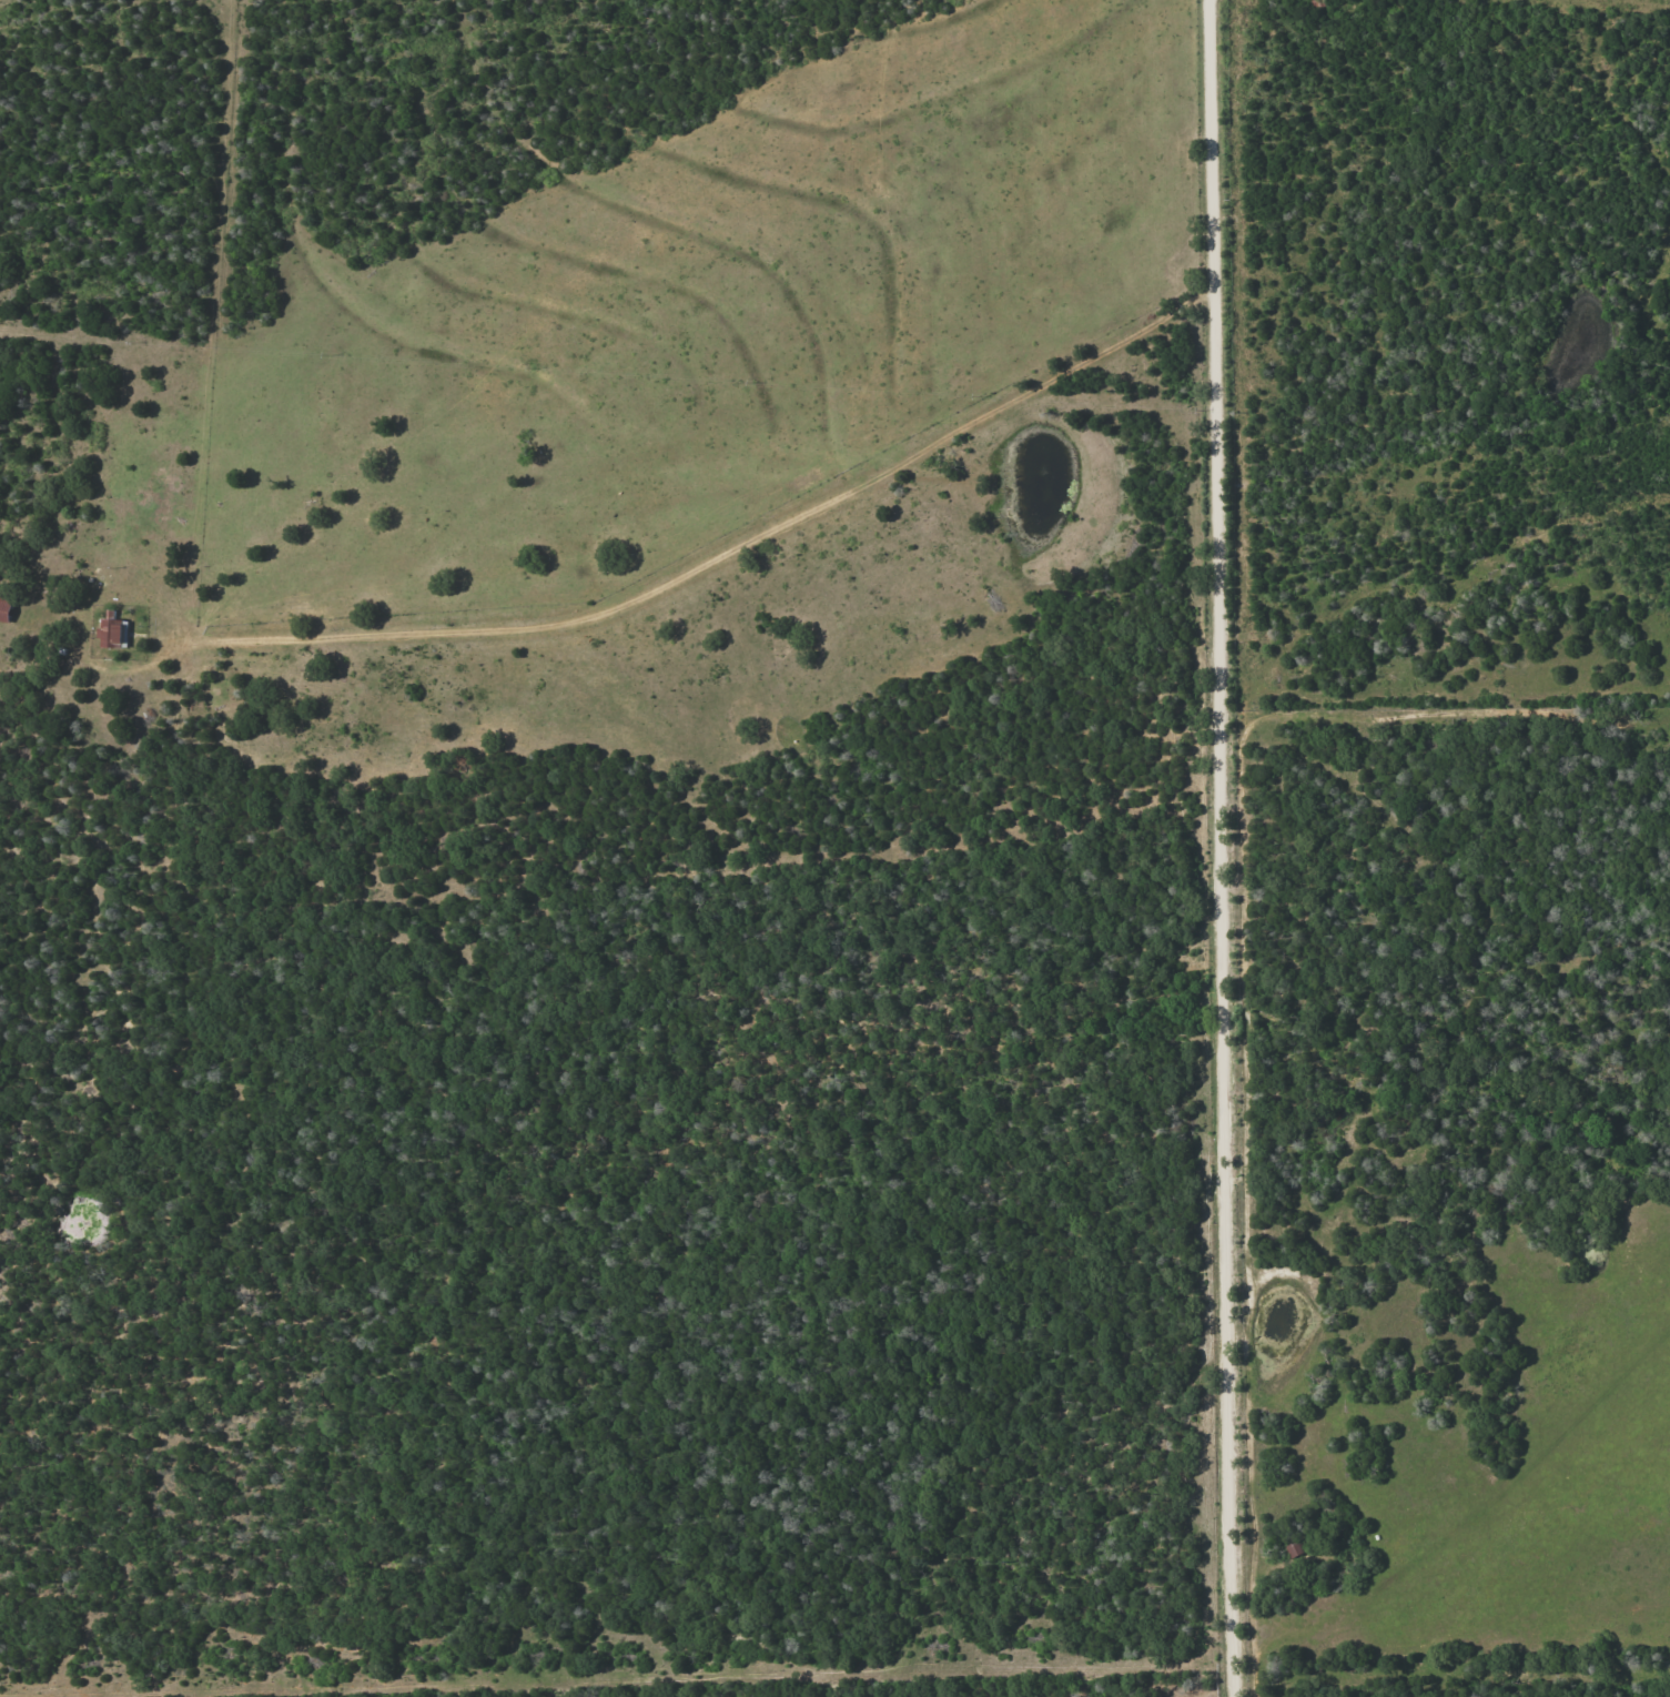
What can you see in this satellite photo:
building: (8, 608)
road: (1222, 848)

